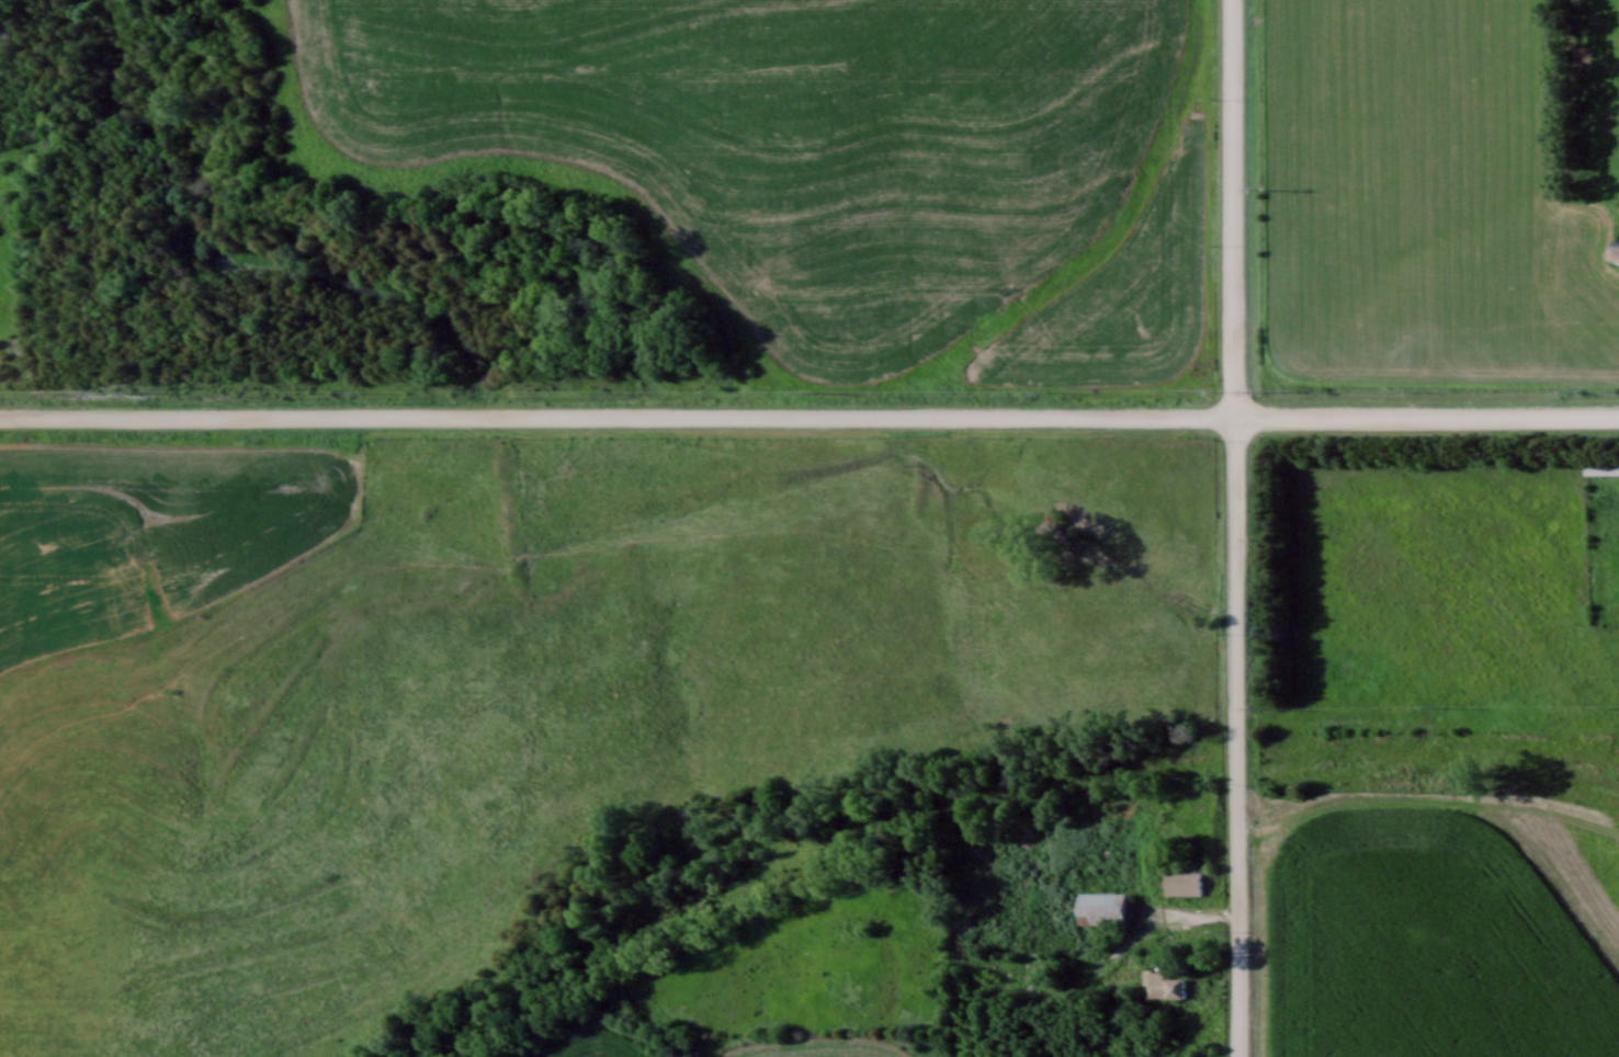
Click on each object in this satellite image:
building: (1607, 172)
road: (1234, 212)
road: (616, 419)
road: (1426, 422)
building: (1600, 466)
road: (1235, 739)
building: (1181, 879)
building: (1101, 907)
road: (1152, 930)
building: (1163, 984)

